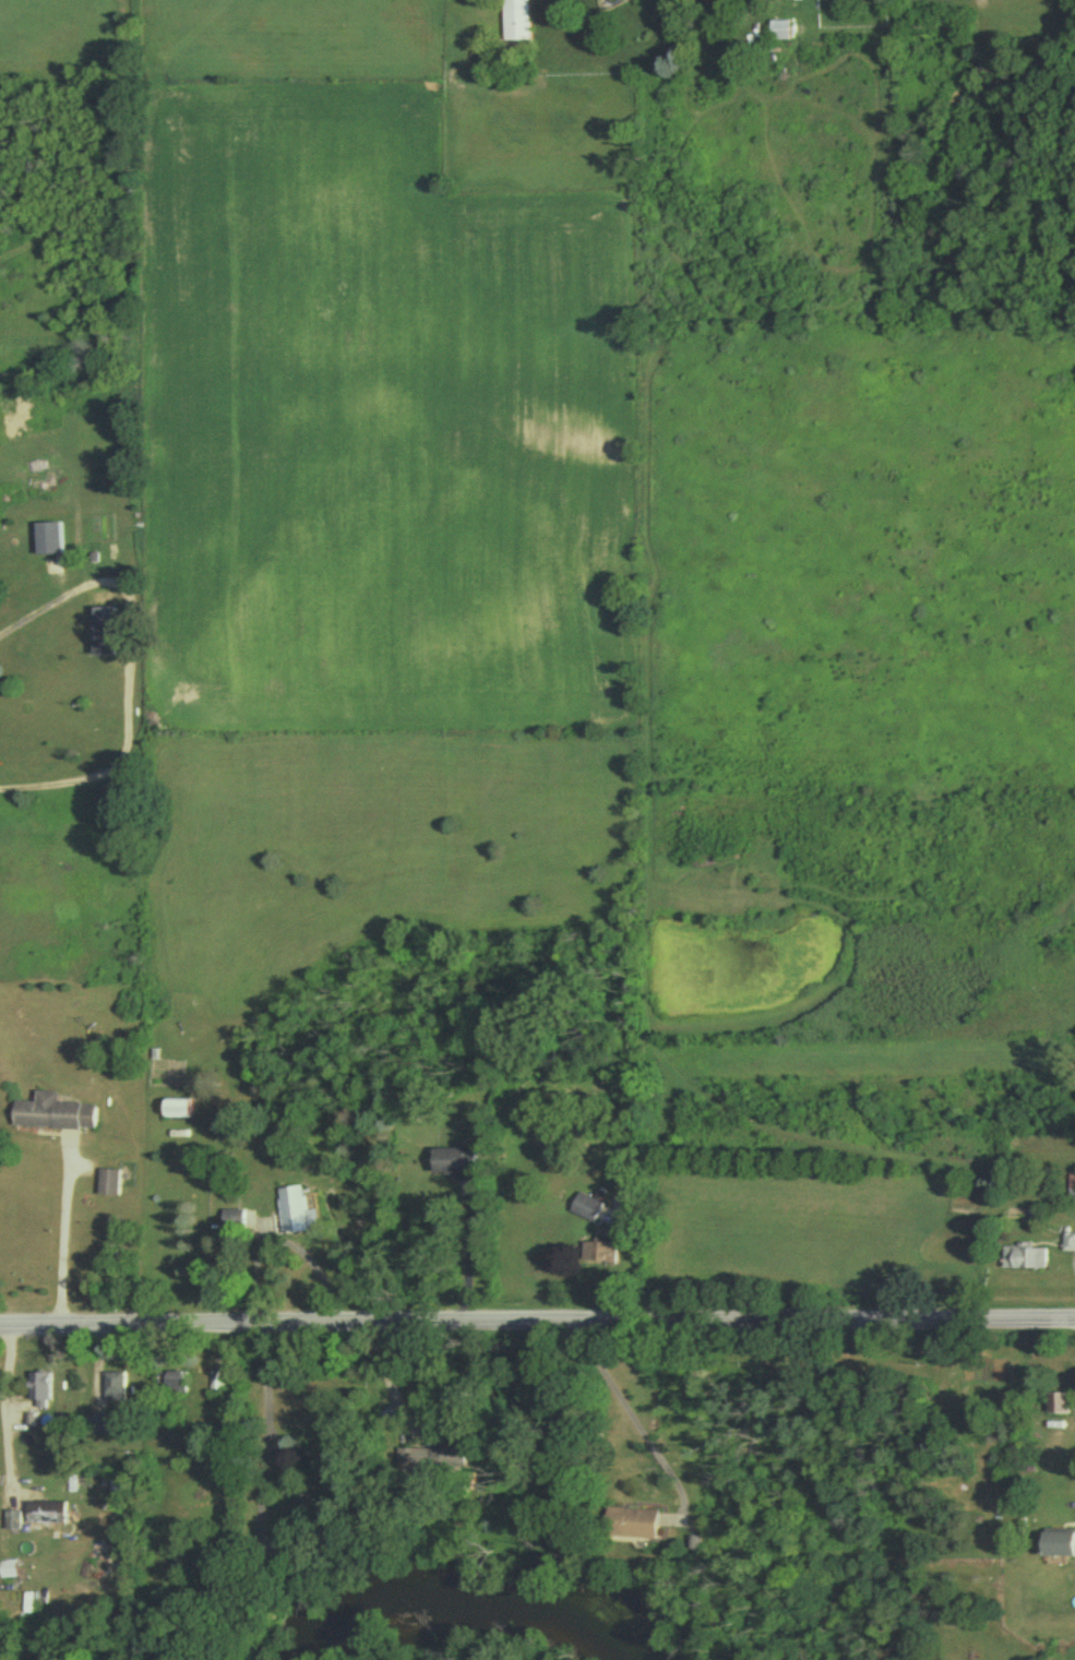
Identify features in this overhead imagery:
building: (514, 22)
building: (779, 34)
building: (47, 544)
building: (101, 636)
road: (124, 665)
building: (175, 1113)
building: (51, 1118)
building: (453, 1166)
building: (107, 1185)
building: (585, 1210)
building: (297, 1215)
building: (232, 1223)
road: (63, 1234)
building: (1068, 1245)
building: (600, 1253)
road: (469, 1256)
building: (1024, 1261)
road: (537, 1318)
road: (389, 1381)
building: (171, 1386)
building: (114, 1390)
building: (39, 1393)
road: (625, 1407)
building: (1058, 1407)
road: (3, 1410)
road: (266, 1414)
building: (99, 1429)
building: (433, 1465)
road: (267, 1481)
building: (59, 1505)
building: (13, 1524)
building: (629, 1526)
building: (1059, 1549)
river: (474, 1605)

